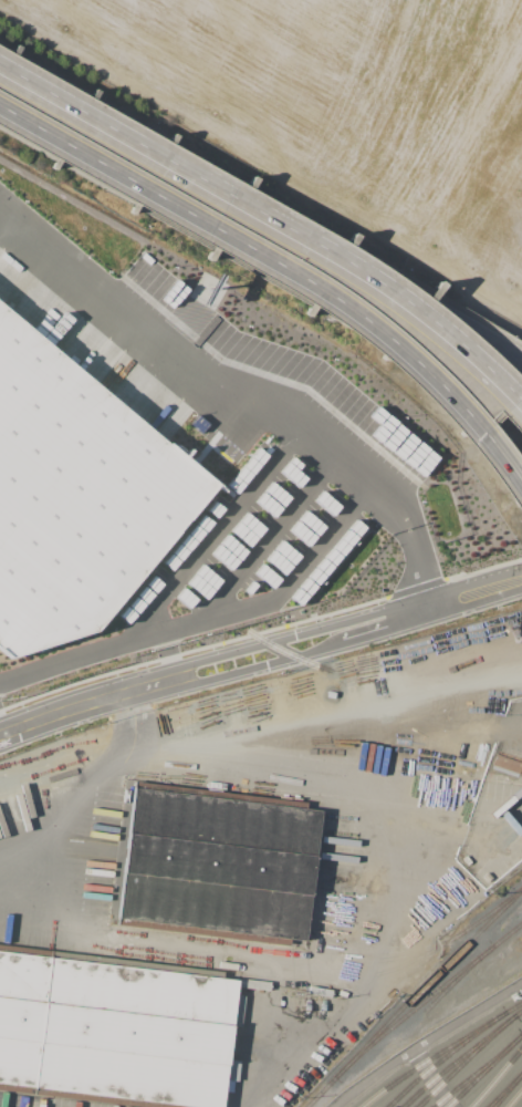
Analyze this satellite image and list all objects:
road: (9, 71)
road: (3, 108)
road: (127, 135)
road: (118, 169)
road: (114, 193)
road: (281, 226)
road: (343, 257)
road: (288, 270)
road: (379, 322)
road: (476, 332)
road: (375, 339)
road: (238, 395)
building: (368, 421)
building: (73, 496)
road: (264, 542)
road: (202, 549)
road: (283, 589)
road: (476, 592)
road: (299, 632)
railway: (285, 652)
road: (306, 654)
road: (82, 659)
road: (87, 706)
road: (220, 786)
road: (35, 831)
building: (215, 866)
railway: (484, 920)
road: (243, 955)
road: (374, 975)
railway: (452, 987)
railway: (416, 1000)
railway: (429, 1001)
building: (117, 1030)
railway: (439, 1052)
railway: (442, 1056)
railway: (460, 1056)
railway: (463, 1061)
railway: (474, 1069)
railway: (482, 1069)
road: (369, 1075)
railway: (494, 1075)
road: (428, 1077)
railway: (502, 1087)
railway: (505, 1088)
railway: (513, 1097)

